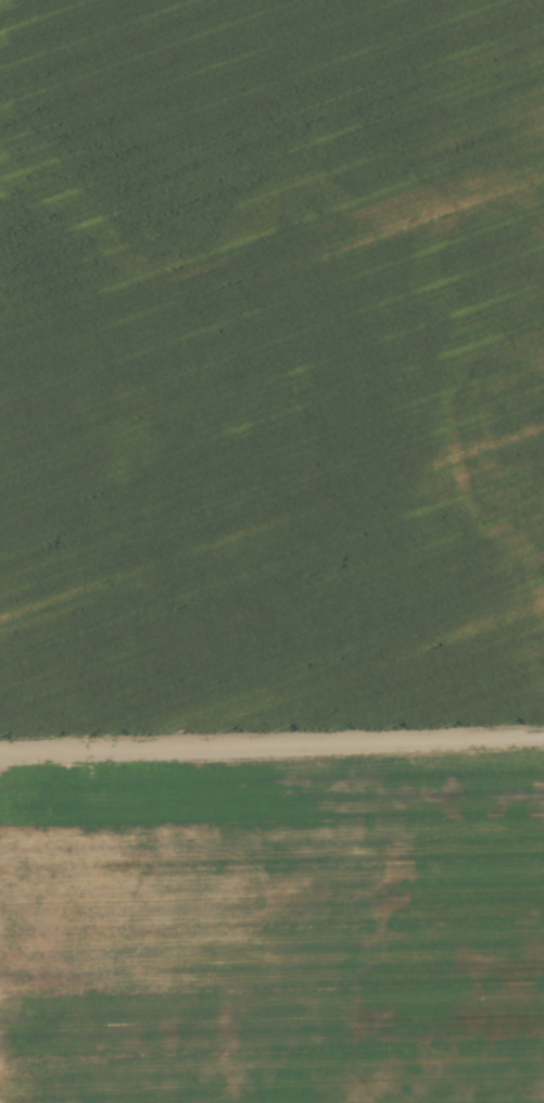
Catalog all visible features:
road: (271, 730)

